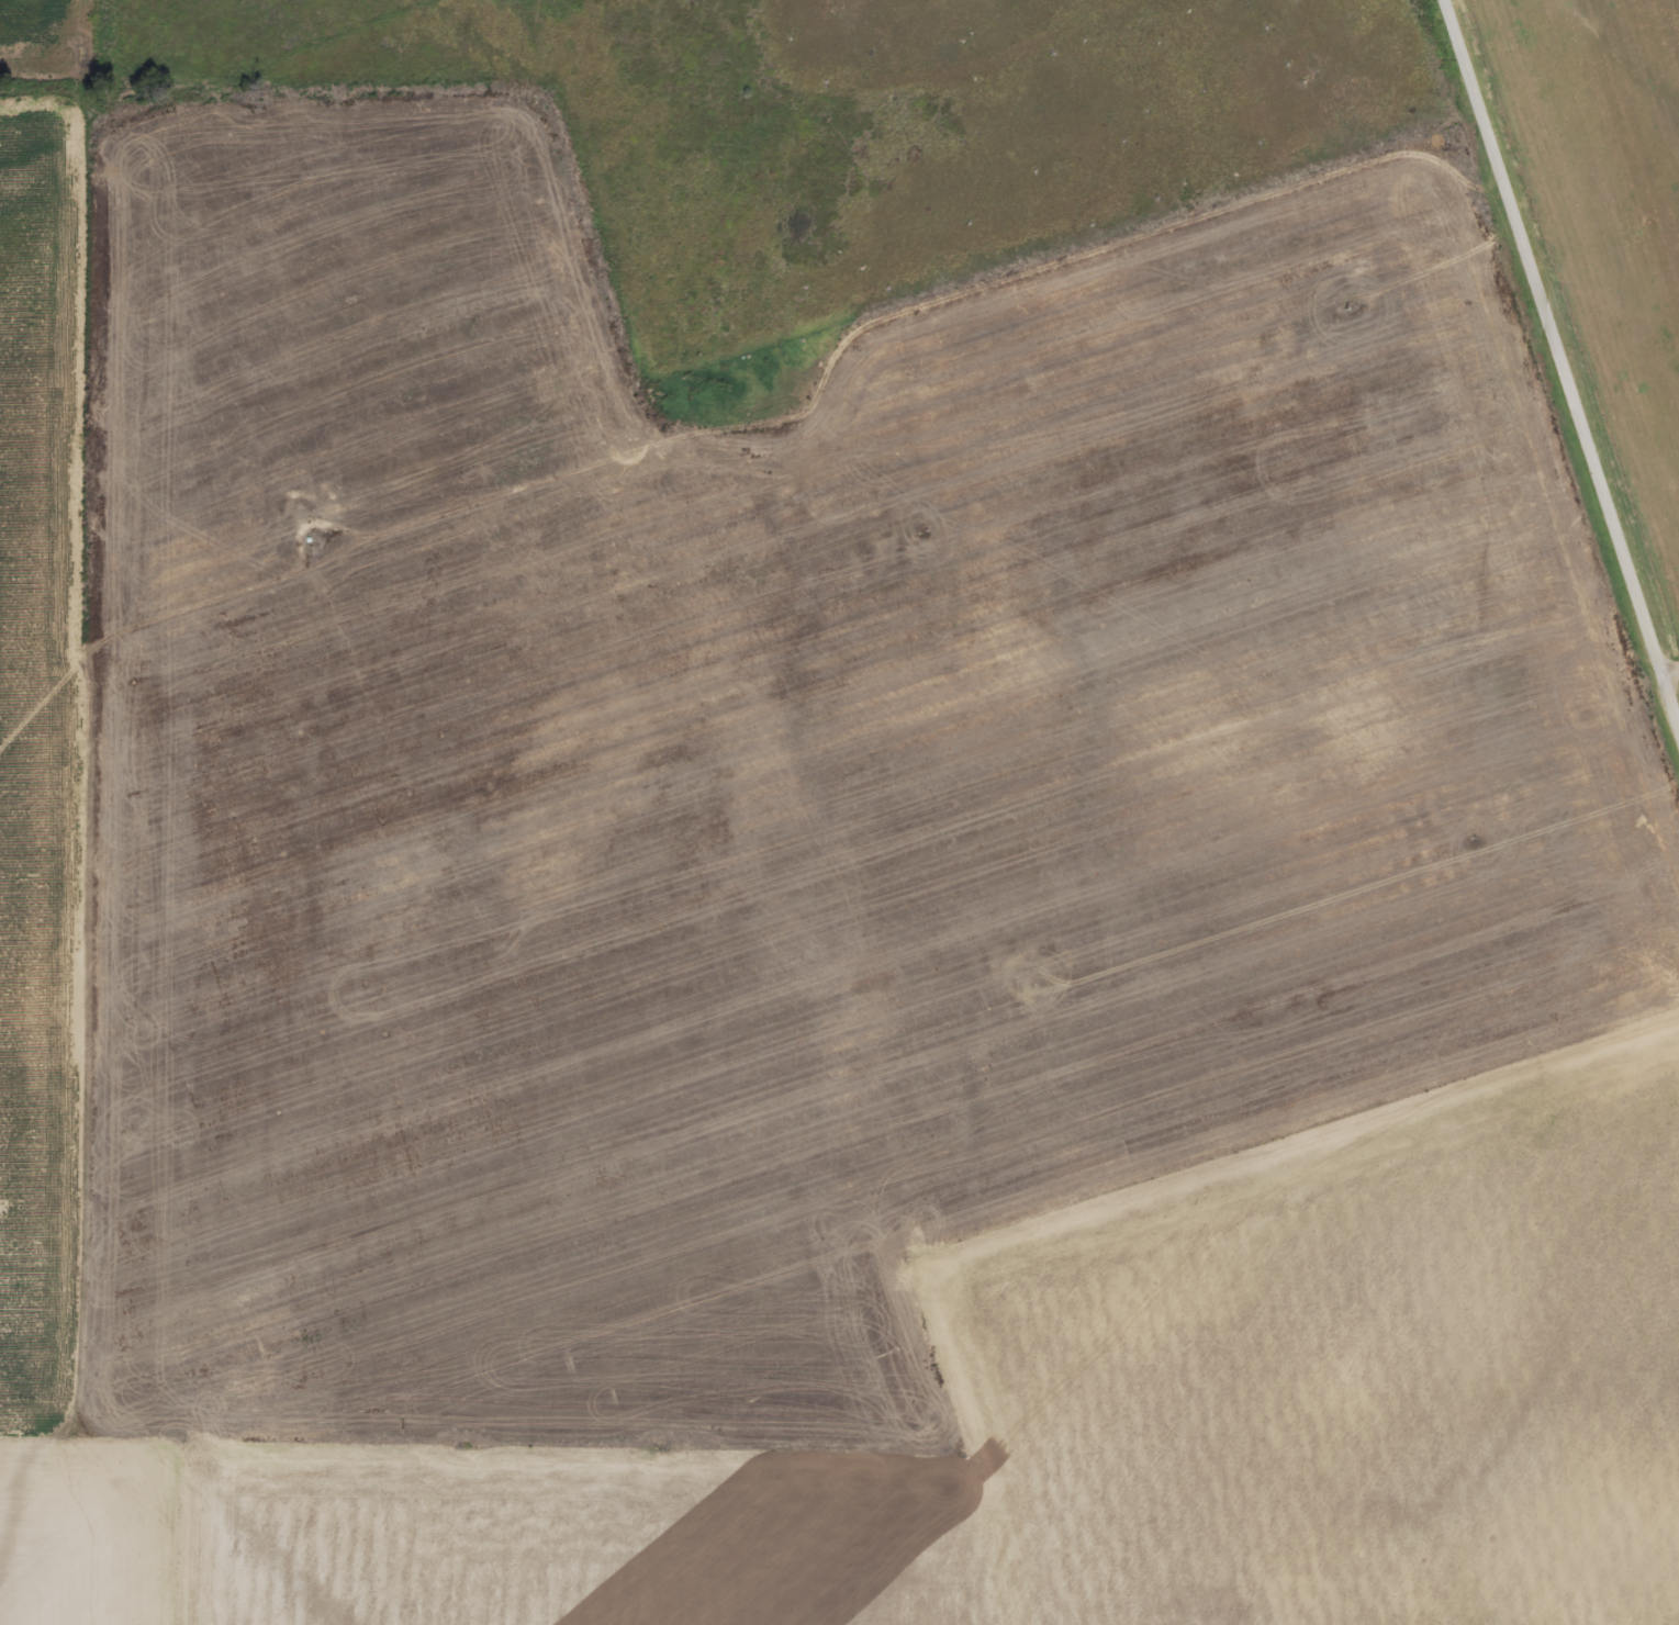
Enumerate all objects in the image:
road: (1564, 358)
road: (1671, 665)

